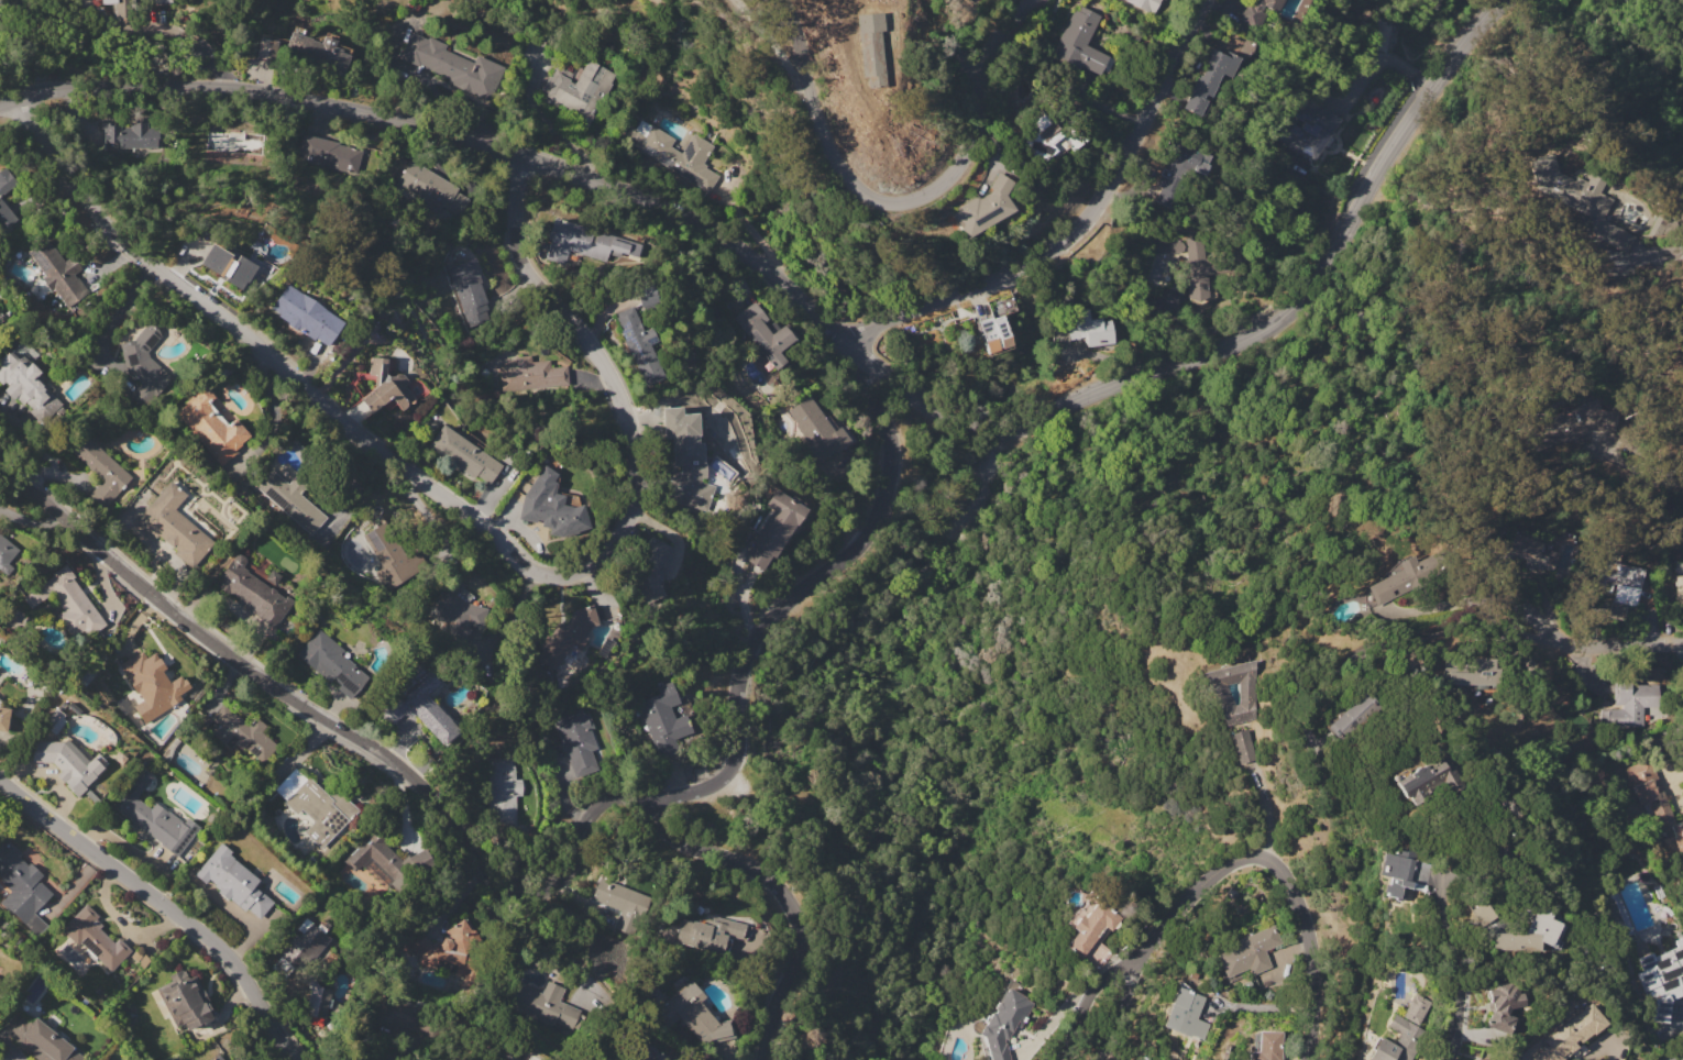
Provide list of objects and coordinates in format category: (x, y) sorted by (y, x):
building: (1145, 4)
building: (118, 7)
building: (1258, 11)
road: (983, 30)
road: (184, 34)
building: (1378, 36)
building: (1080, 44)
building: (868, 47)
building: (264, 48)
road: (777, 49)
building: (318, 52)
building: (453, 65)
building: (1210, 79)
building: (577, 89)
building: (1306, 129)
building: (132, 135)
building: (1050, 139)
building: (235, 143)
building: (675, 153)
building: (330, 154)
building: (1176, 172)
building: (5, 181)
building: (433, 188)
building: (1575, 201)
road: (906, 205)
building: (985, 207)
building: (5, 214)
road: (1085, 224)
building: (584, 242)
building: (1168, 245)
road: (1665, 253)
building: (229, 266)
building: (1199, 267)
building: (58, 274)
building: (469, 290)
building: (647, 295)
building: (1008, 305)
building: (307, 314)
road: (837, 327)
building: (1094, 329)
building: (765, 334)
building: (994, 335)
building: (639, 344)
building: (144, 366)
building: (531, 374)
building: (21, 380)
building: (385, 388)
building: (1681, 415)
building: (822, 424)
building: (1572, 424)
building: (211, 426)
building: (464, 454)
building: (687, 455)
building: (100, 468)
building: (290, 499)
building: (551, 506)
road: (461, 514)
building: (174, 527)
building: (774, 528)
building: (1525, 553)
building: (5, 555)
building: (391, 556)
building: (650, 570)
building: (1408, 576)
building: (1679, 578)
building: (1618, 579)
building: (252, 590)
building: (68, 601)
building: (454, 610)
building: (569, 634)
road: (1592, 648)
building: (331, 663)
building: (1480, 671)
building: (140, 682)
building: (1218, 694)
building: (1630, 702)
building: (419, 703)
building: (3, 717)
building: (1353, 717)
building: (663, 720)
building: (240, 731)
building: (577, 739)
building: (1241, 744)
building: (67, 763)
building: (1426, 781)
building: (504, 790)
building: (316, 805)
building: (1662, 810)
road: (1266, 811)
building: (155, 817)
road: (1481, 830)
building: (386, 855)
road: (1286, 874)
building: (1394, 874)
building: (233, 882)
road: (551, 883)
building: (21, 887)
road: (784, 897)
building: (623, 905)
road: (163, 906)
building: (1477, 912)
building: (1092, 927)
building: (710, 932)
building: (1527, 932)
building: (96, 938)
building: (305, 946)
building: (446, 951)
building: (1250, 952)
road: (1460, 963)
road: (1127, 967)
building: (1662, 979)
building: (0, 986)
building: (184, 1001)
building: (317, 1001)
building: (546, 1006)
building: (1502, 1006)
building: (1185, 1009)
building: (1417, 1009)
building: (404, 1015)
building: (698, 1015)
building: (1004, 1023)
building: (1571, 1034)
building: (41, 1041)
building: (1399, 1041)
building: (1267, 1046)
building: (643, 1055)
building: (217, 1058)
building: (1484, 1059)
road: (1681, 1059)

